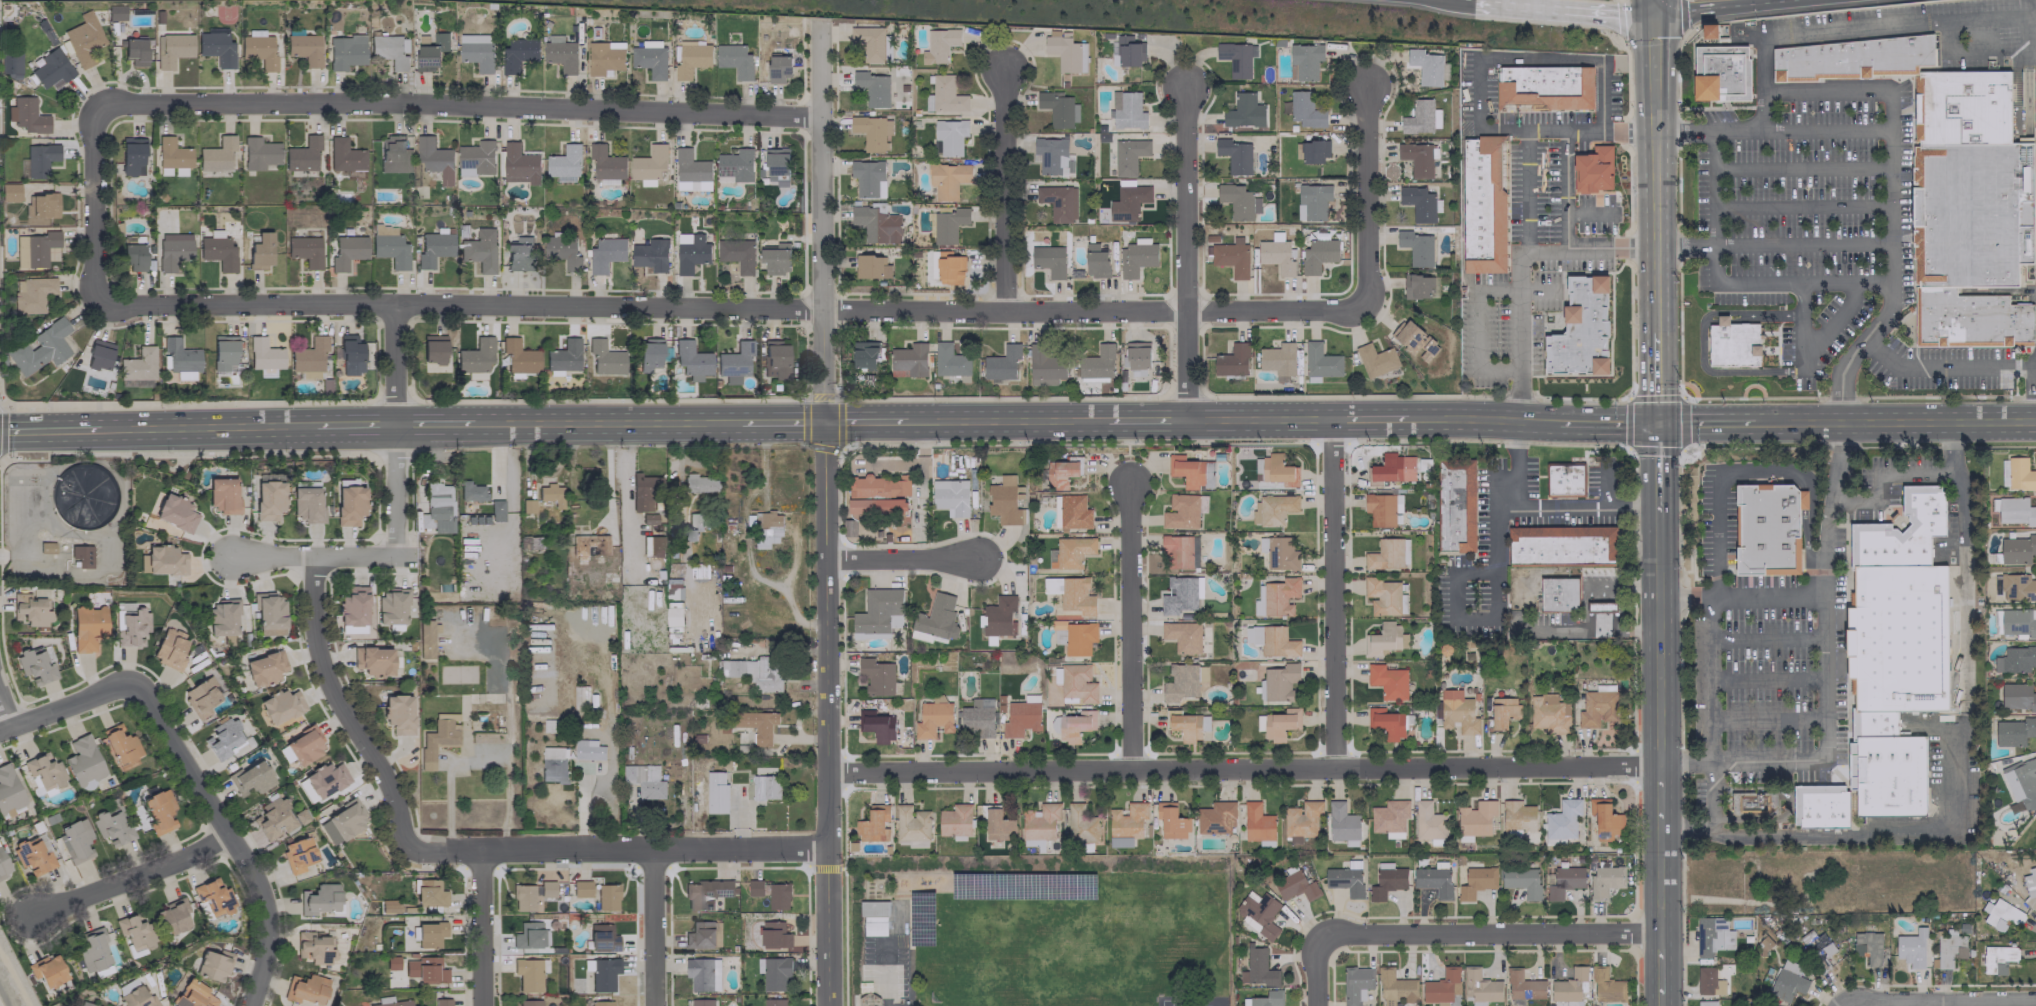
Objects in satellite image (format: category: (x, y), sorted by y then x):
road: (1462, 1)
road: (1512, 6)
road: (1652, 6)
road: (1714, 6)
building: (116, 12)
road: (1601, 13)
traffic signals: (1652, 13)
building: (1709, 30)
building: (83, 39)
building: (871, 43)
building: (939, 45)
building: (216, 46)
building: (172, 48)
building: (304, 48)
building: (134, 50)
building: (259, 50)
building: (390, 50)
building: (346, 51)
building: (430, 51)
building: (476, 51)
building: (1126, 51)
building: (1066, 52)
building: (518, 54)
building: (561, 55)
road: (1638, 56)
building: (604, 57)
road: (1622, 57)
building: (649, 58)
building: (689, 58)
building: (1236, 58)
building: (734, 60)
building: (1304, 61)
building: (10, 64)
building: (779, 67)
building: (1427, 67)
building: (52, 69)
building: (1721, 74)
building: (872, 88)
building: (1544, 88)
road: (1871, 93)
building: (944, 95)
road: (1602, 96)
road: (460, 101)
building: (1058, 108)
building: (1305, 109)
building: (1128, 111)
building: (1244, 111)
building: (1962, 111)
building: (28, 115)
building: (1421, 117)
road: (1589, 130)
road: (1725, 130)
road: (1825, 130)
building: (872, 131)
building: (950, 135)
road: (1527, 145)
building: (1313, 151)
building: (173, 153)
building: (259, 153)
building: (217, 154)
building: (303, 154)
building: (394, 154)
building: (344, 155)
building: (1128, 155)
building: (1234, 155)
building: (132, 156)
building: (1053, 156)
building: (434, 158)
building: (476, 158)
building: (1418, 158)
building: (40, 159)
building: (606, 162)
building: (776, 162)
building: (519, 164)
building: (564, 164)
building: (648, 165)
building: (735, 166)
road: (1799, 167)
building: (1594, 170)
building: (172, 171)
building: (691, 171)
road: (1653, 171)
building: (868, 177)
building: (947, 179)
road: (1709, 187)
road: (1004, 191)
building: (10, 192)
road: (1370, 198)
building: (1236, 200)
building: (1312, 201)
building: (1059, 202)
building: (1128, 202)
building: (1419, 202)
road: (97, 203)
building: (1486, 203)
building: (41, 205)
road: (1800, 206)
building: (1972, 212)
road: (1587, 214)
road: (823, 217)
building: (876, 223)
building: (948, 224)
road: (1565, 234)
road: (1800, 244)
building: (389, 246)
building: (1416, 247)
building: (34, 248)
building: (433, 248)
road: (1185, 249)
building: (173, 250)
building: (305, 250)
building: (481, 250)
building: (562, 250)
road: (1546, 250)
building: (260, 251)
building: (347, 251)
building: (218, 252)
building: (690, 252)
building: (519, 253)
building: (605, 254)
building: (650, 254)
building: (736, 254)
building: (1317, 255)
building: (134, 256)
building: (1231, 256)
building: (1275, 256)
building: (775, 257)
building: (1135, 258)
building: (1048, 259)
building: (1095, 261)
building: (870, 266)
building: (949, 268)
building: (31, 294)
road: (734, 307)
building: (1970, 319)
road: (1831, 322)
road: (1800, 326)
road: (1477, 327)
building: (1581, 330)
building: (1414, 340)
building: (1733, 343)
road: (1702, 344)
building: (40, 348)
road: (1855, 348)
building: (433, 349)
building: (224, 352)
building: (99, 354)
building: (349, 354)
building: (648, 354)
building: (864, 354)
building: (179, 356)
building: (264, 356)
building: (475, 356)
building: (519, 356)
building: (309, 357)
building: (563, 357)
building: (605, 357)
building: (1137, 358)
building: (691, 359)
building: (774, 359)
building: (909, 360)
building: (949, 360)
building: (1232, 360)
building: (1375, 360)
building: (1278, 361)
building: (1320, 361)
building: (734, 362)
building: (1097, 362)
building: (1001, 363)
building: (138, 364)
building: (1044, 366)
road: (1944, 366)
building: (184, 375)
road: (1655, 377)
road: (2034, 396)
road: (1, 401)
road: (1258, 418)
road: (1369, 418)
road: (1481, 418)
road: (1006, 419)
road: (1146, 419)
road: (865, 420)
road: (781, 421)
traffic signals: (824, 421)
road: (1896, 421)
road: (434, 422)
road: (606, 422)
road: (1706, 422)
road: (354, 423)
road: (1605, 423)
traffic signals: (1656, 423)
road: (206, 425)
road: (1, 430)
road: (49, 430)
road: (394, 430)
building: (1393, 468)
building: (1278, 470)
road: (1656, 470)
building: (1190, 471)
building: (2003, 472)
building: (1060, 473)
building: (2020, 475)
road: (1884, 477)
building: (1565, 481)
building: (699, 483)
building: (878, 486)
road: (1809, 489)
building: (471, 491)
building: (644, 491)
road: (627, 492)
building: (550, 494)
storage tank: (81, 495)
building: (223, 495)
building: (950, 497)
building: (269, 499)
building: (83, 500)
building: (1003, 501)
building: (350, 504)
building: (307, 505)
building: (1456, 505)
building: (437, 507)
building: (1382, 508)
road: (1577, 508)
building: (873, 509)
building: (1272, 509)
building: (1183, 510)
building: (2016, 511)
building: (175, 512)
building: (1073, 512)
building: (649, 518)
building: (693, 524)
building: (1871, 526)
building: (1768, 527)
building: (768, 529)
road: (1715, 532)
building: (584, 545)
building: (644, 545)
building: (655, 546)
building: (1562, 546)
building: (2016, 549)
building: (1177, 550)
building: (1071, 552)
building: (1278, 552)
building: (1387, 554)
building: (81, 555)
road: (313, 557)
road: (903, 558)
building: (165, 560)
road: (1494, 580)
building: (2017, 587)
building: (1071, 593)
road: (1333, 593)
building: (1180, 594)
building: (1559, 595)
building: (1279, 596)
building: (1383, 596)
road: (1685, 596)
building: (1258, 602)
building: (391, 605)
building: (353, 606)
building: (1601, 607)
building: (29, 609)
road: (1583, 609)
building: (878, 612)
building: (673, 613)
building: (269, 614)
building: (222, 617)
building: (937, 617)
building: (997, 617)
building: (2015, 622)
road: (1132, 626)
road: (1712, 626)
building: (88, 627)
building: (132, 627)
building: (1058, 631)
building: (1182, 636)
building: (927, 637)
road: (1768, 637)
building: (426, 638)
building: (1078, 638)
building: (1898, 638)
building: (1383, 639)
building: (1271, 640)
road: (1659, 641)
building: (170, 648)
building: (2015, 659)
building: (35, 666)
building: (264, 668)
building: (755, 671)
road: (1823, 672)
building: (876, 676)
road: (1768, 679)
building: (1183, 681)
building: (1280, 681)
building: (1387, 681)
building: (1077, 682)
building: (2017, 696)
building: (201, 697)
building: (981, 702)
building: (280, 706)
road: (65, 707)
road: (505, 707)
building: (1596, 707)
road: (6, 708)
road: (342, 708)
building: (1502, 711)
building: (1457, 712)
building: (398, 713)
road: (827, 713)
building: (1548, 713)
building: (1021, 716)
building: (932, 719)
road: (1769, 719)
building: (976, 721)
building: (1386, 722)
building: (1280, 723)
building: (1875, 724)
building: (757, 725)
building: (876, 725)
building: (1075, 725)
building: (1187, 725)
building: (2013, 731)
building: (224, 738)
building: (438, 738)
building: (303, 745)
building: (120, 746)
building: (588, 749)
road: (1938, 749)
building: (83, 762)
road: (476, 763)
road: (1244, 769)
building: (44, 772)
building: (1887, 775)
building: (251, 778)
building: (326, 779)
building: (644, 780)
building: (2021, 781)
building: (766, 787)
building: (9, 791)
road: (1661, 791)
building: (716, 792)
road: (1714, 803)
building: (1752, 803)
building: (1820, 806)
building: (159, 810)
building: (1517, 815)
building: (277, 817)
building: (1216, 817)
building: (1389, 817)
building: (1476, 818)
building: (1604, 818)
building: (1562, 819)
building: (955, 820)
building: (1170, 820)
building: (1301, 820)
building: (1041, 821)
building: (1428, 821)
building: (342, 822)
building: (1257, 822)
building: (1341, 822)
building: (911, 823)
building: (1127, 823)
building: (874, 824)
building: (998, 824)
building: (1081, 824)
road: (228, 835)
building: (76, 839)
road: (620, 847)
building: (298, 854)
building: (33, 856)
building: (3, 865)
road: (1662, 874)
road: (131, 878)
building: (1345, 878)
building: (1386, 880)
building: (1521, 880)
building: (1605, 880)
building: (1433, 881)
building: (1476, 881)
building: (1564, 881)
building: (2029, 883)
building: (1295, 886)
building: (546, 888)
building: (581, 888)
building: (429, 893)
building: (705, 893)
building: (770, 893)
building: (213, 896)
building: (606, 896)
building: (522, 897)
building: (319, 899)
building: (1258, 913)
building: (2001, 915)
building: (173, 916)
building: (873, 917)
road: (655, 926)
road: (482, 928)
building: (134, 932)
road: (1488, 932)
building: (430, 933)
building: (530, 935)
building: (702, 935)
building: (774, 935)
building: (1712, 935)
building: (602, 937)
building: (1867, 946)
building: (313, 948)
building: (1816, 948)
building: (1911, 948)
building: (1949, 948)
building: (93, 949)
building: (1997, 958)
road: (1663, 963)
building: (214, 964)
building: (1257, 968)
building: (47, 970)
building: (425, 970)
building: (773, 972)
building: (529, 973)
building: (601, 973)
building: (703, 973)
road: (1315, 973)
road: (887, 974)
building: (1708, 981)
building: (1786, 983)
building: (1356, 984)
building: (126, 985)
building: (1479, 985)
building: (1522, 985)
building: (1569, 985)
building: (1441, 986)
building: (1606, 986)
building: (1394, 987)
building: (306, 989)
building: (194, 995)
building: (866, 995)
building: (137, 998)
building: (1266, 998)
road: (3, 999)
road: (1664, 1001)
building: (442, 1002)
building: (529, 1002)
building: (701, 1002)
building: (774, 1002)
road: (1940, 1002)
building: (391, 1003)
building: (600, 1003)
building: (1706, 1003)
building: (86, 1004)
road: (1845, 1005)

